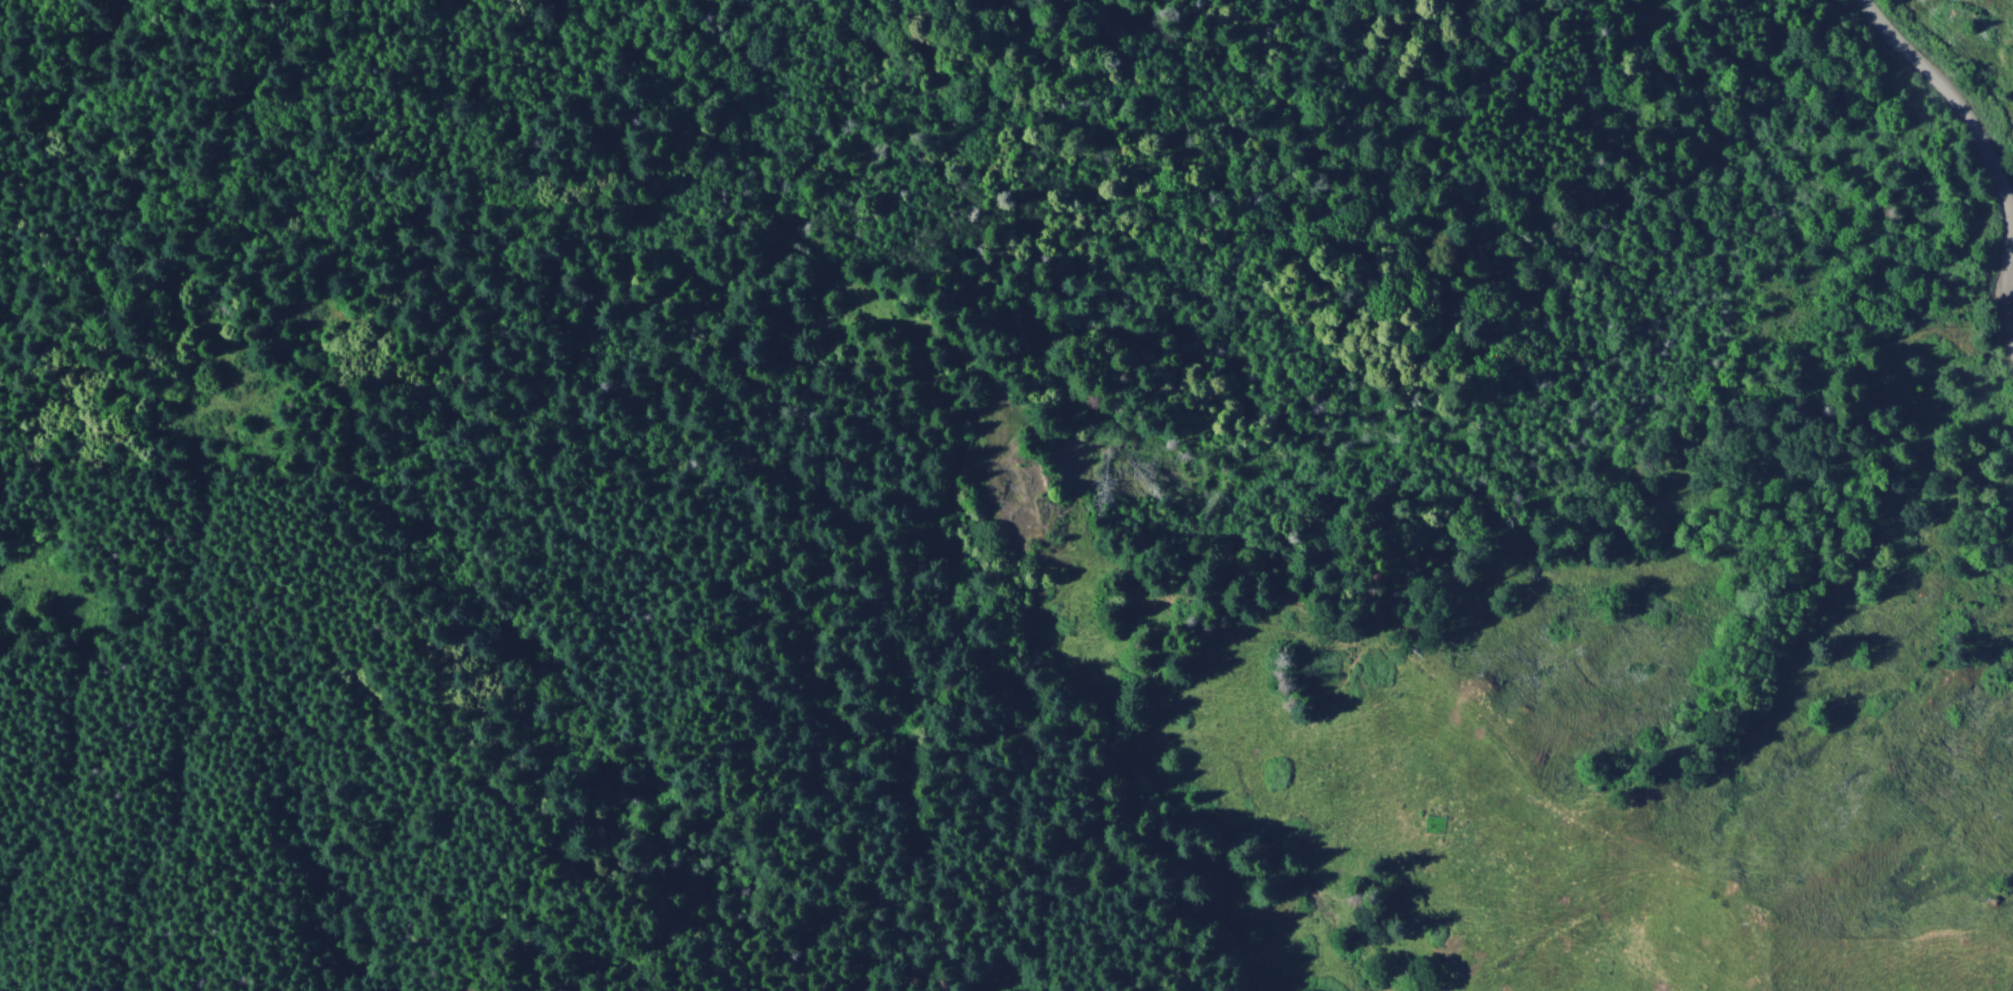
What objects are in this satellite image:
road: (1981, 159)
road: (352, 738)
park: (1430, 823)

